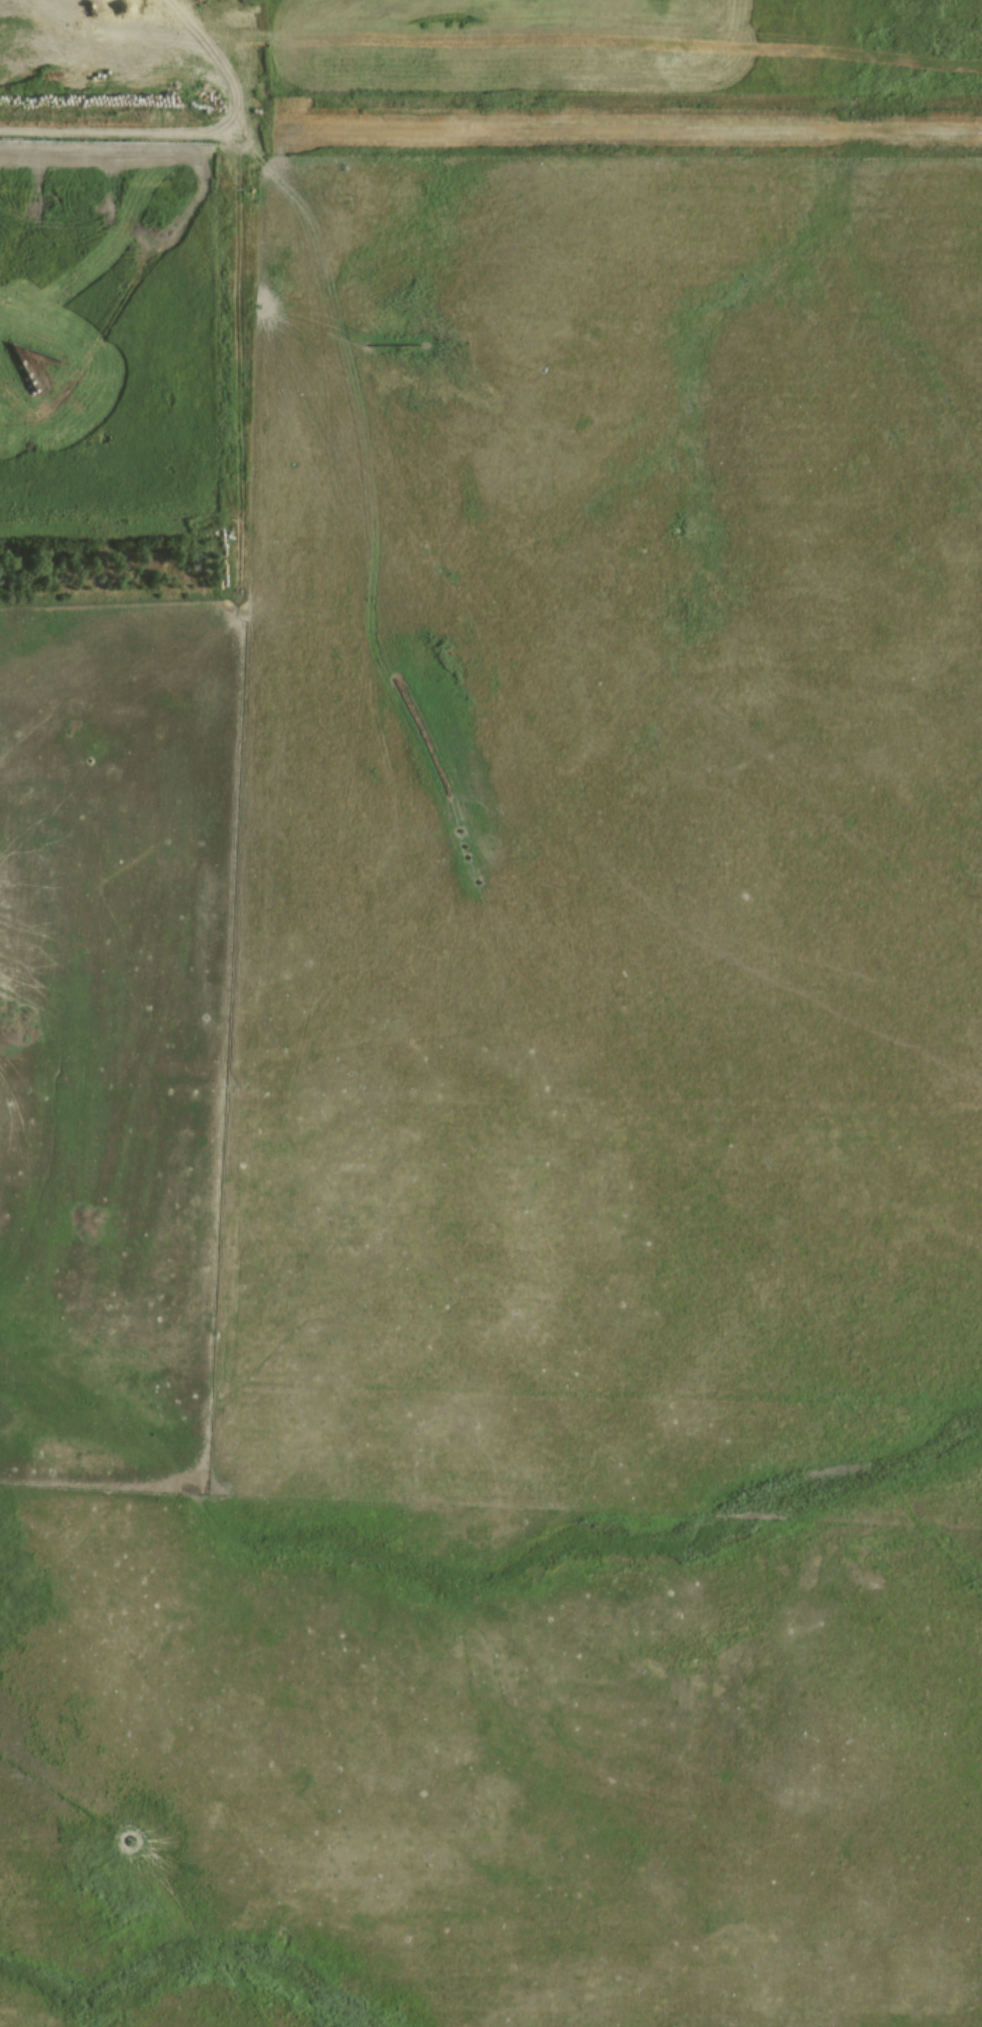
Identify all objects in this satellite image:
road: (491, 59)

